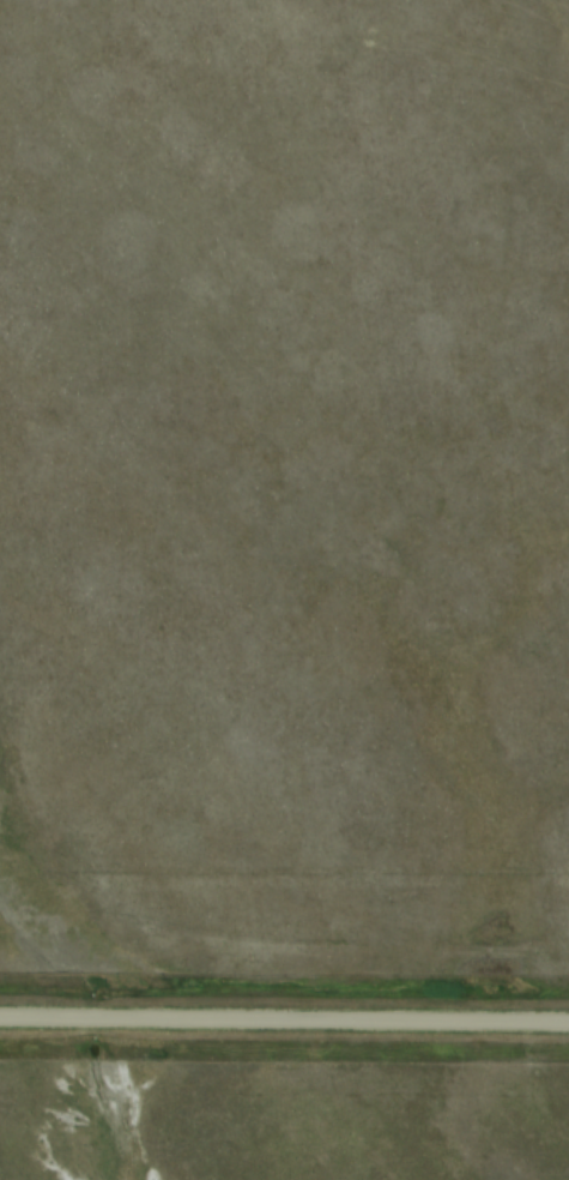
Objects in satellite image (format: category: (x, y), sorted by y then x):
road: (284, 1022)

